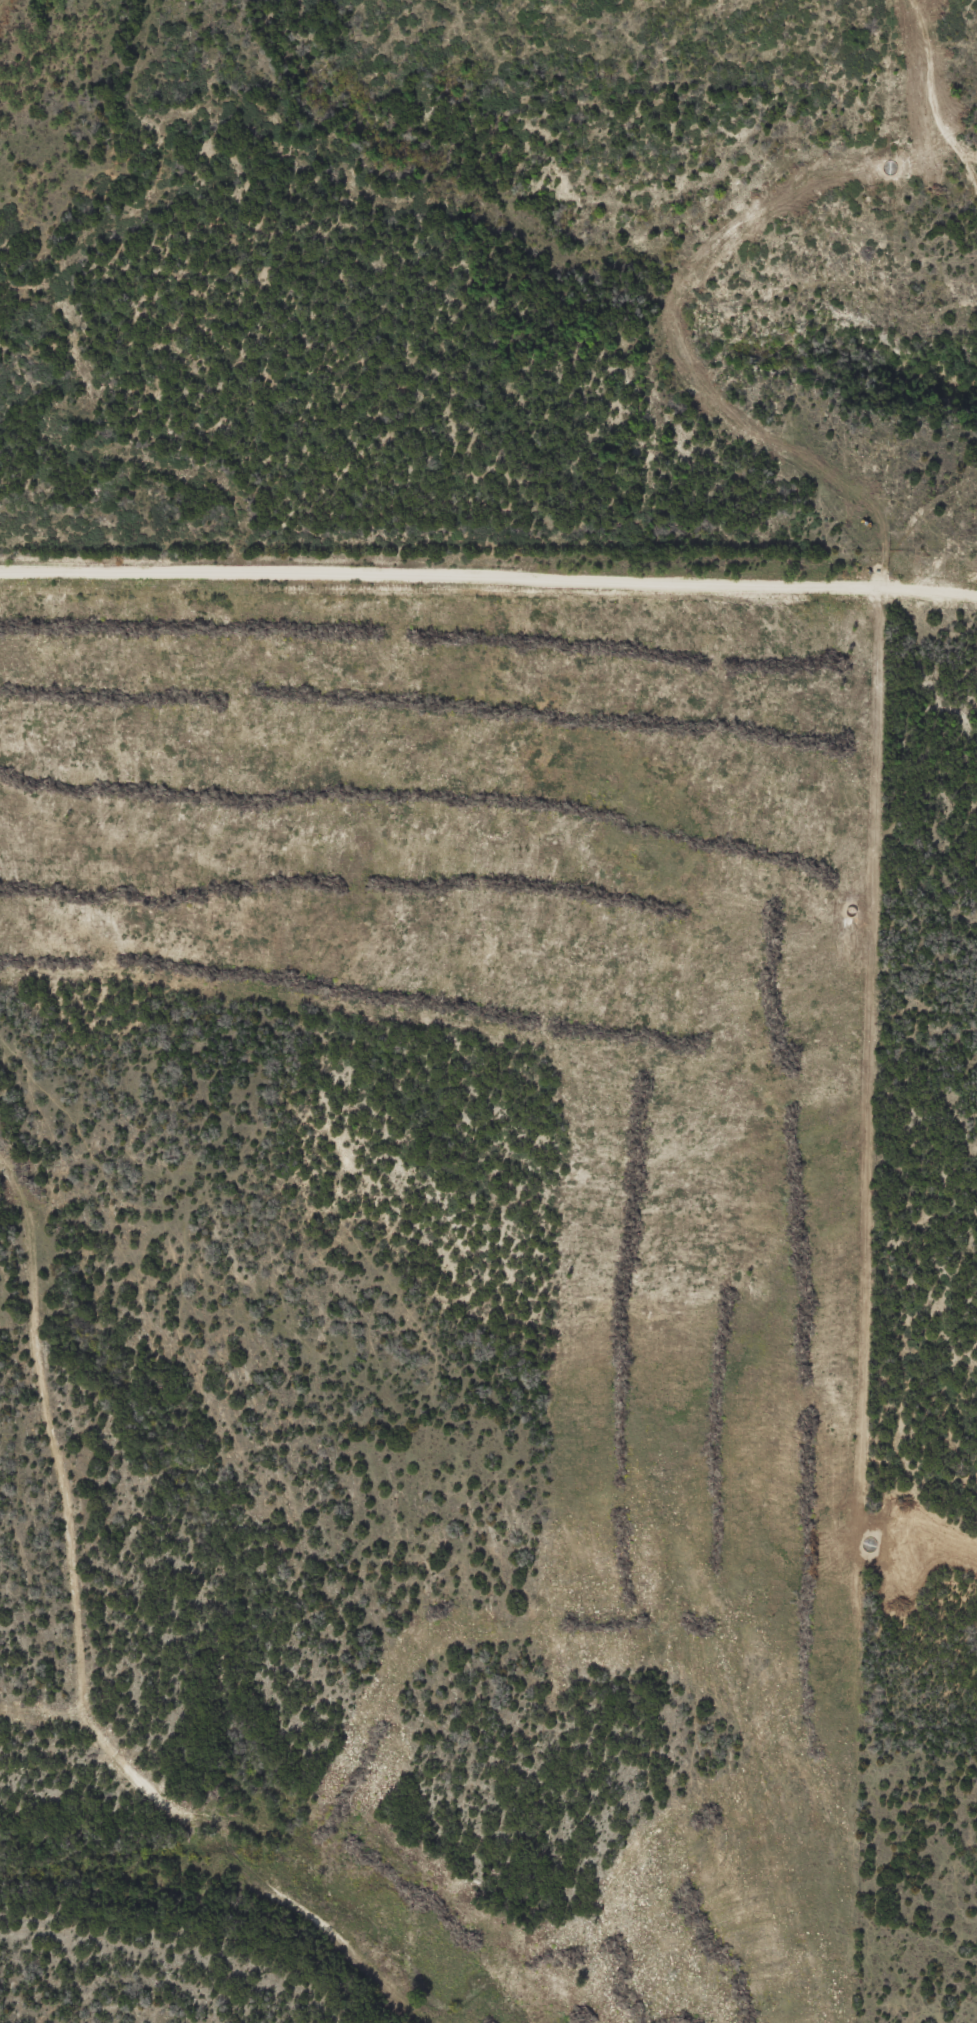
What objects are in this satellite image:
road: (1, 1)
road: (133, 1596)

